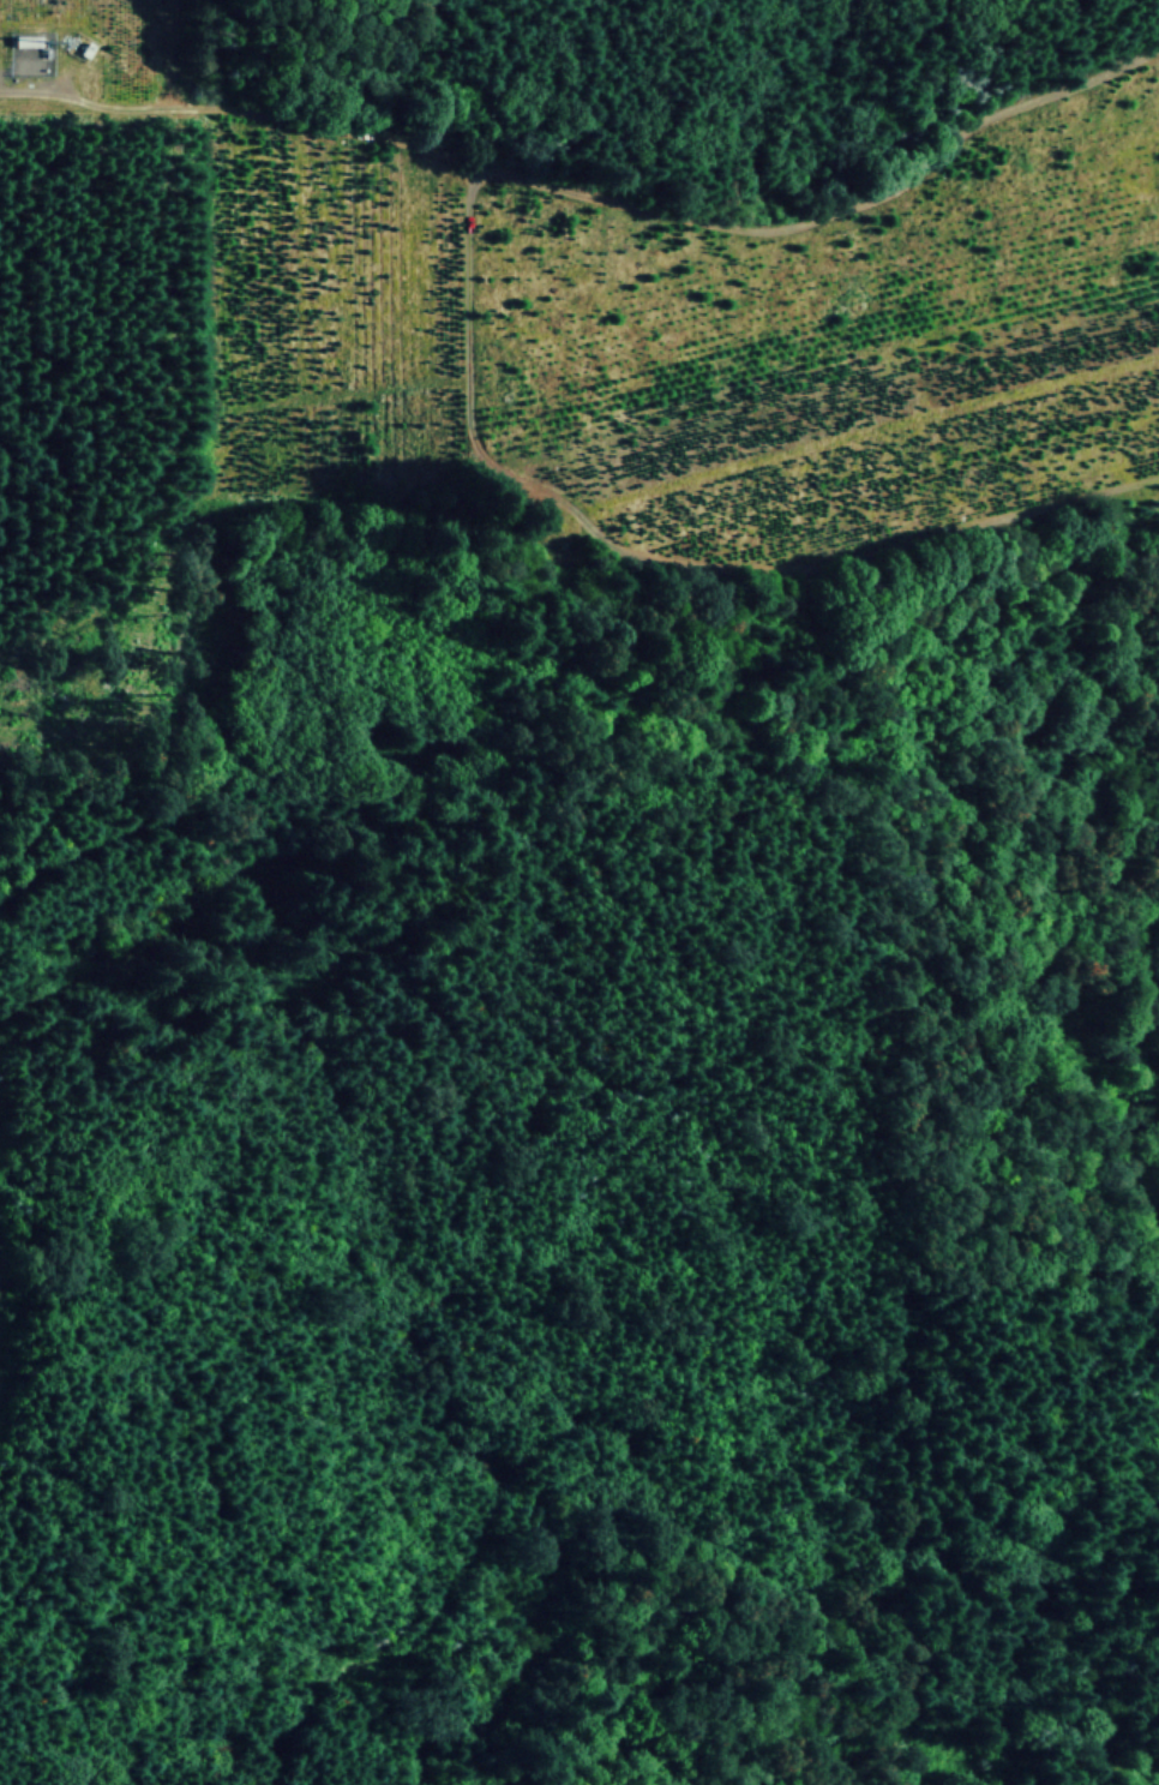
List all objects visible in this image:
road: (594, 193)

